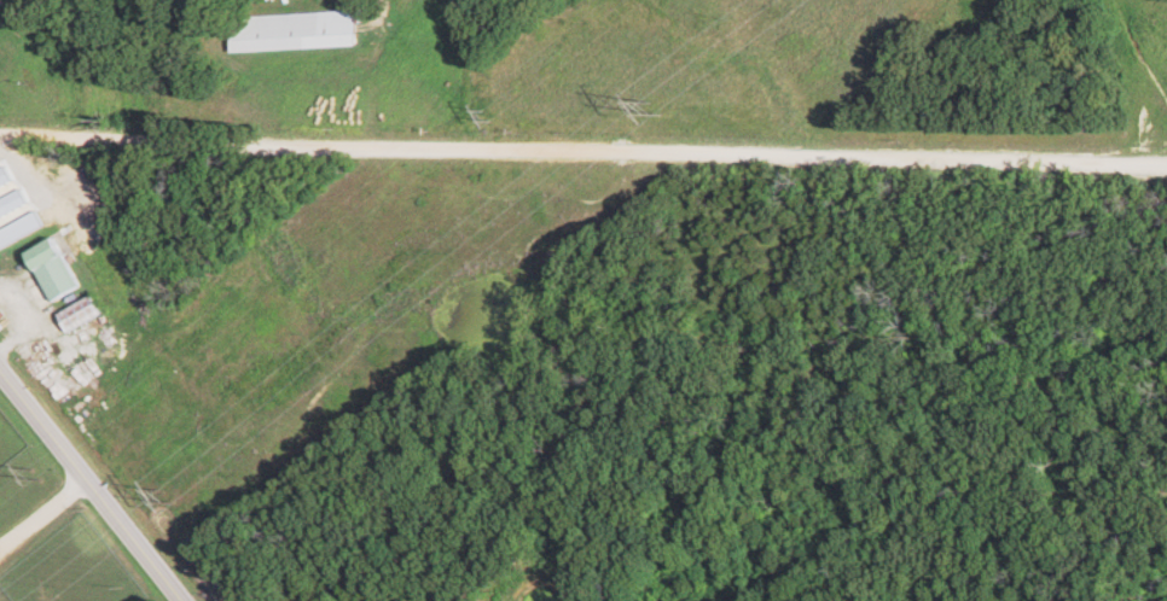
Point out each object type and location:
building: (300, 31)
power tower: (666, 106)
road: (582, 142)
building: (12, 208)
building: (21, 231)
building: (62, 269)
building: (88, 314)
road: (88, 483)
power tower: (175, 496)
road: (42, 513)

